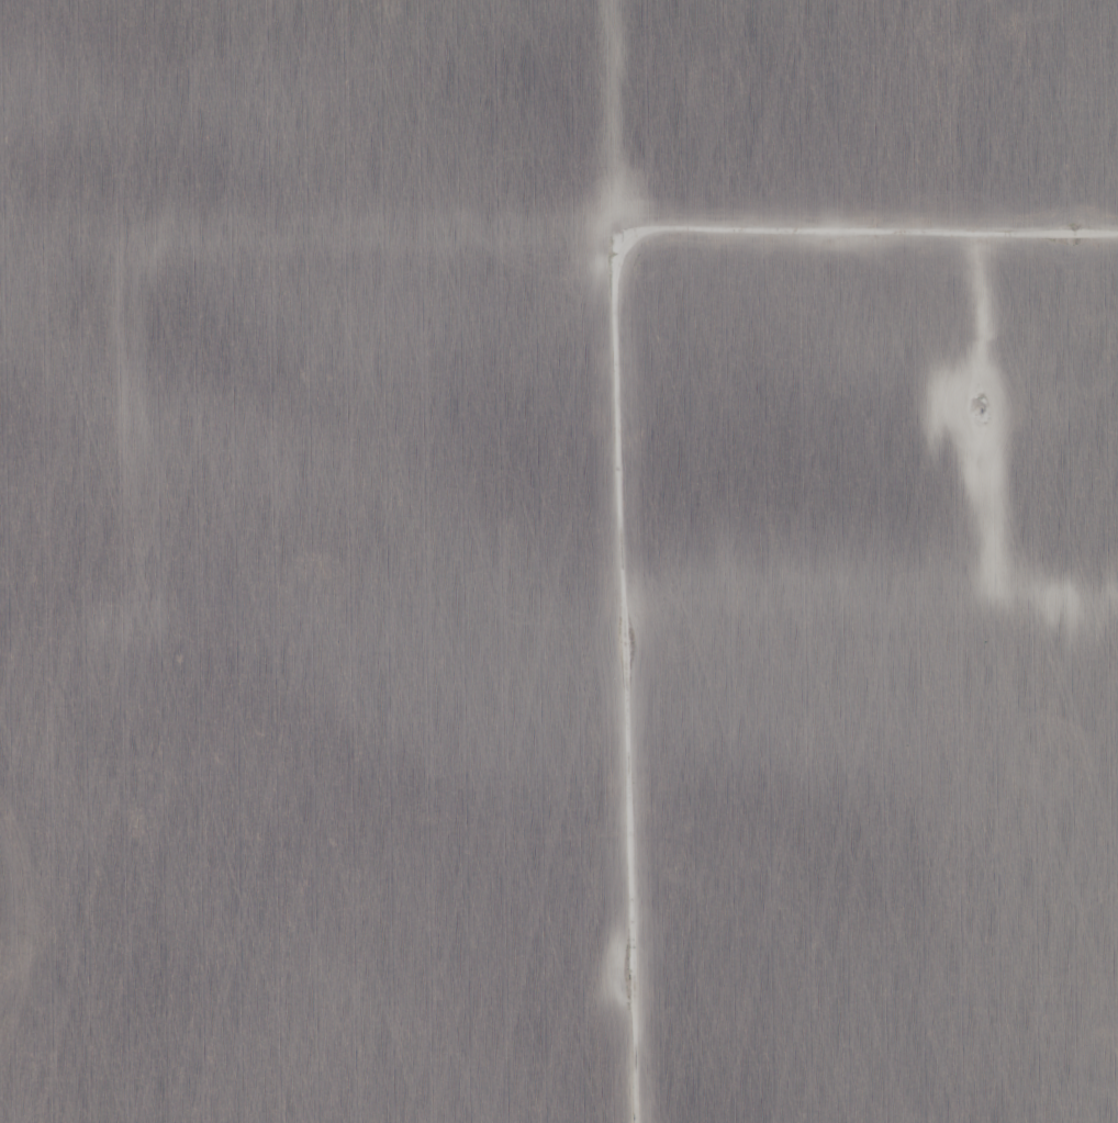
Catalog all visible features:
road: (622, 431)

